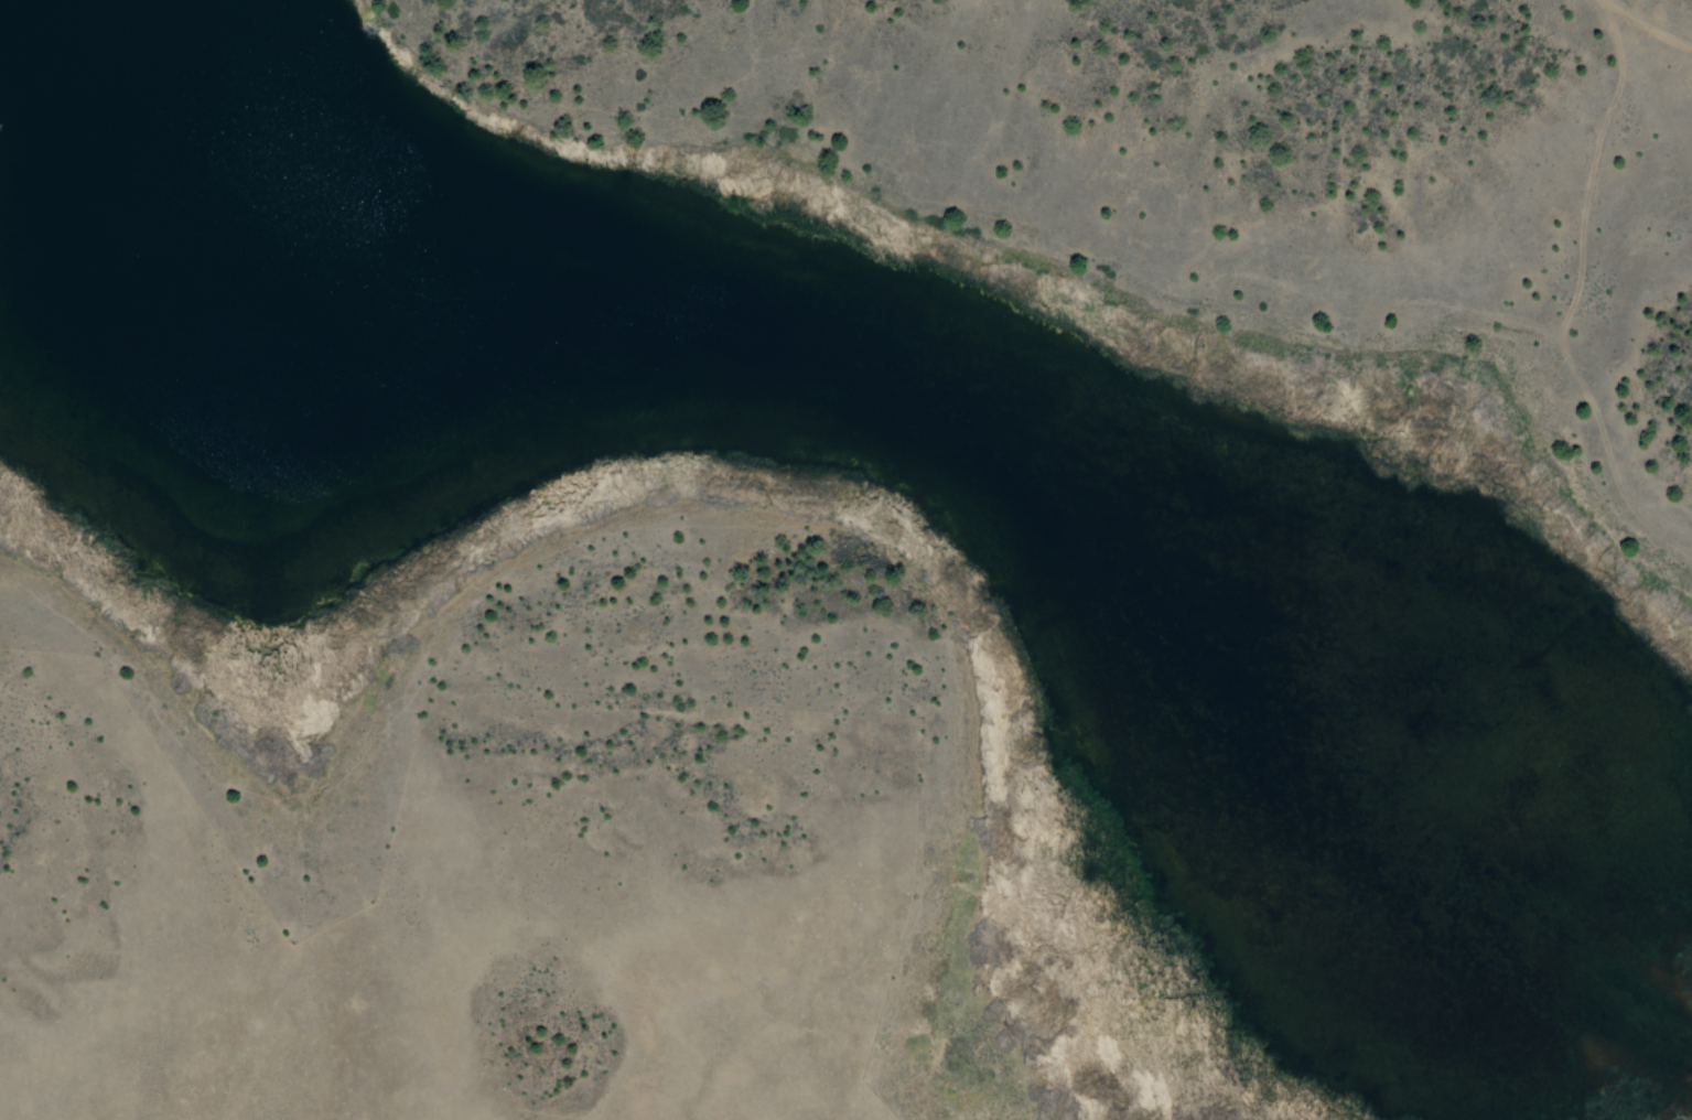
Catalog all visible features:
road: (1650, 25)

